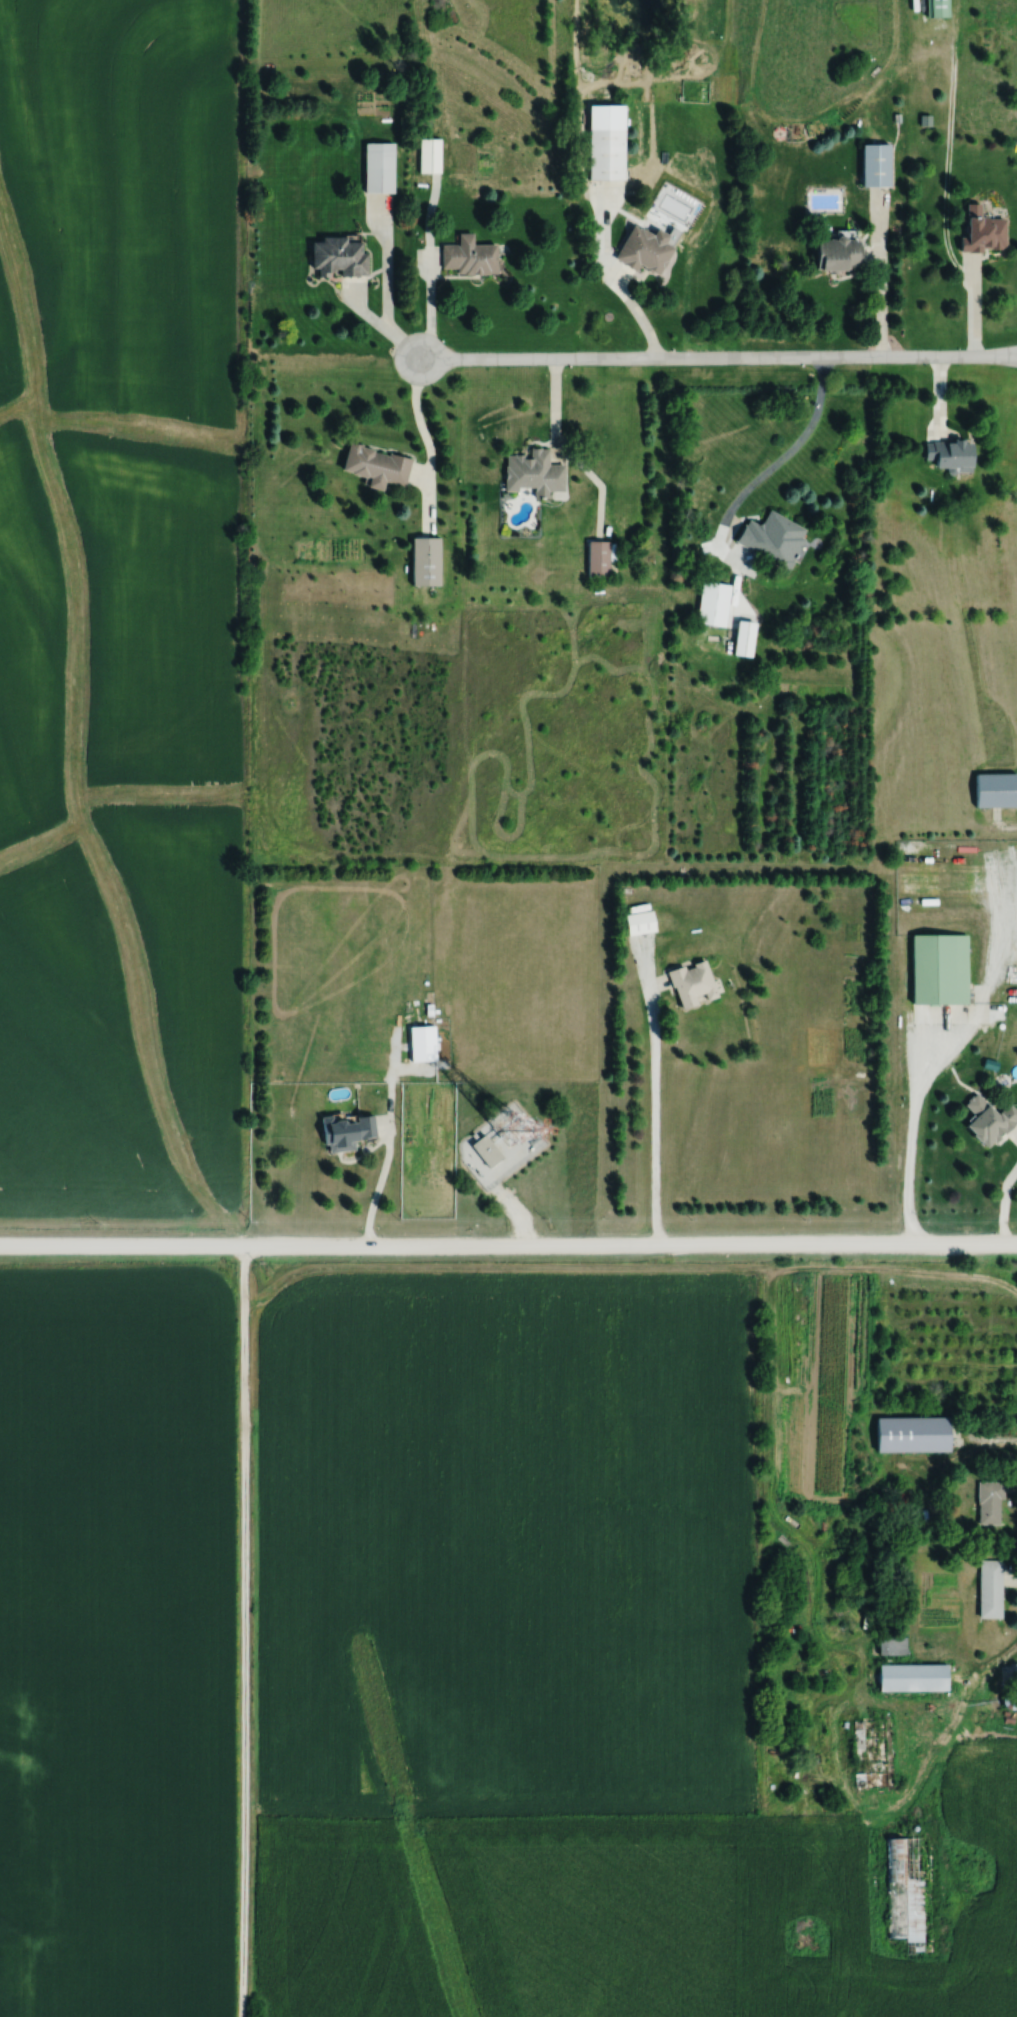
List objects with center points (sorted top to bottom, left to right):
building: (938, 8)
road: (948, 144)
building: (606, 154)
building: (430, 156)
building: (876, 165)
building: (379, 167)
building: (983, 231)
building: (646, 250)
building: (838, 253)
building: (469, 256)
building: (339, 257)
road: (619, 282)
road: (434, 287)
road: (388, 288)
road: (883, 300)
road: (977, 308)
road: (716, 361)
road: (425, 433)
road: (567, 452)
building: (950, 455)
building: (376, 466)
road: (773, 473)
building: (533, 474)
building: (774, 539)
building: (598, 558)
building: (426, 563)
building: (713, 604)
building: (921, 858)
building: (919, 897)
building: (640, 922)
building: (940, 968)
building: (692, 983)
building: (422, 1043)
road: (656, 1115)
building: (991, 1123)
building: (346, 1131)
road: (918, 1131)
building: (486, 1149)
road: (374, 1195)
road: (1008, 1212)
road: (508, 1251)
road: (1015, 1494)
building: (990, 1502)
building: (990, 1588)
road: (1014, 1589)
road: (245, 1634)
building: (892, 1645)
building: (1015, 1674)
building: (913, 1677)
building: (1010, 1700)
building: (905, 1893)

